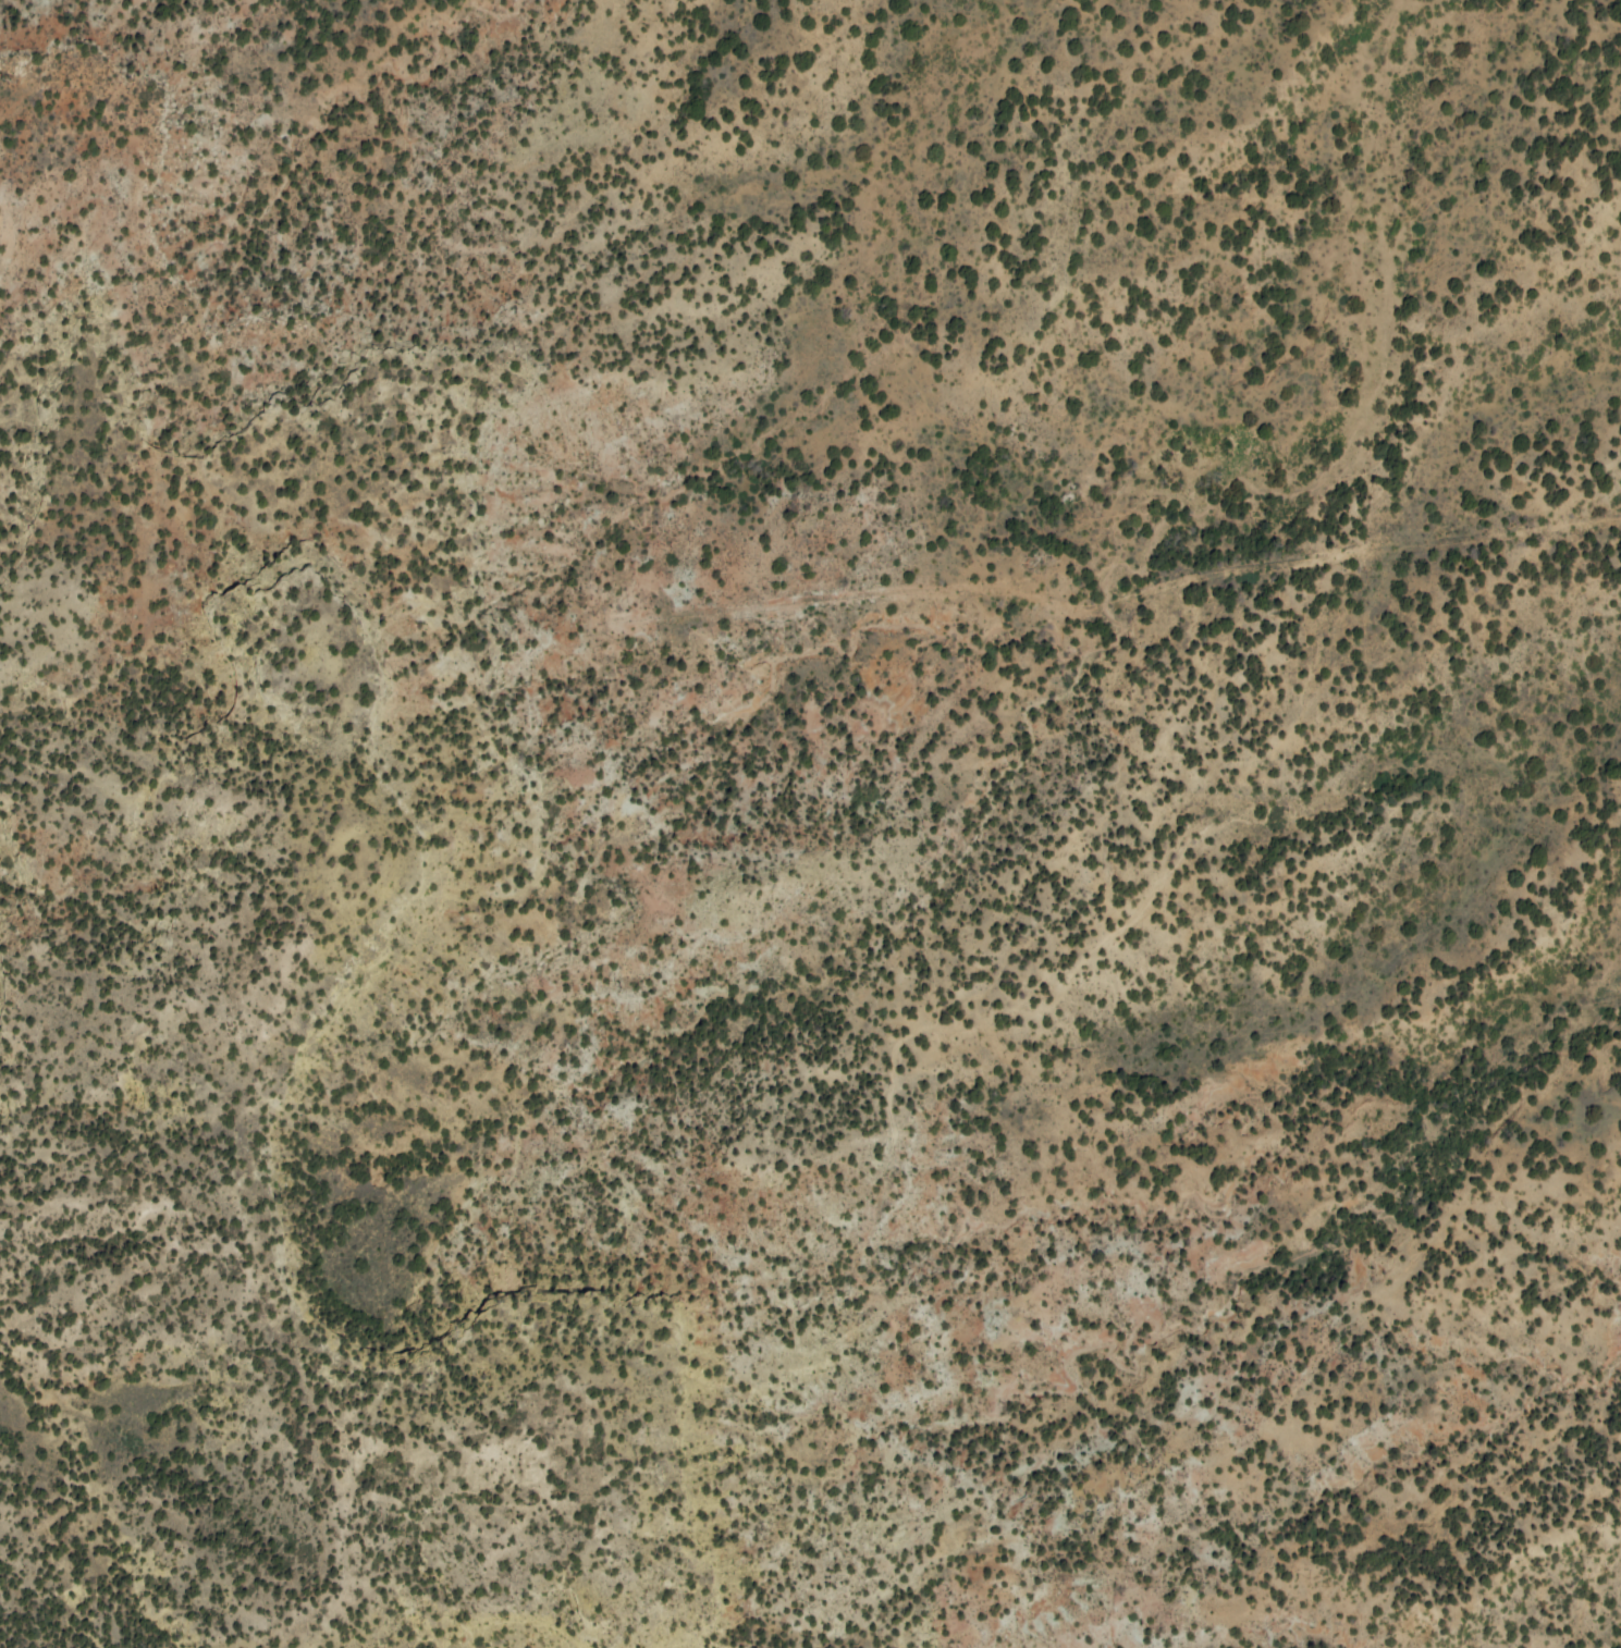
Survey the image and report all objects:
power tower: (4, 82)

